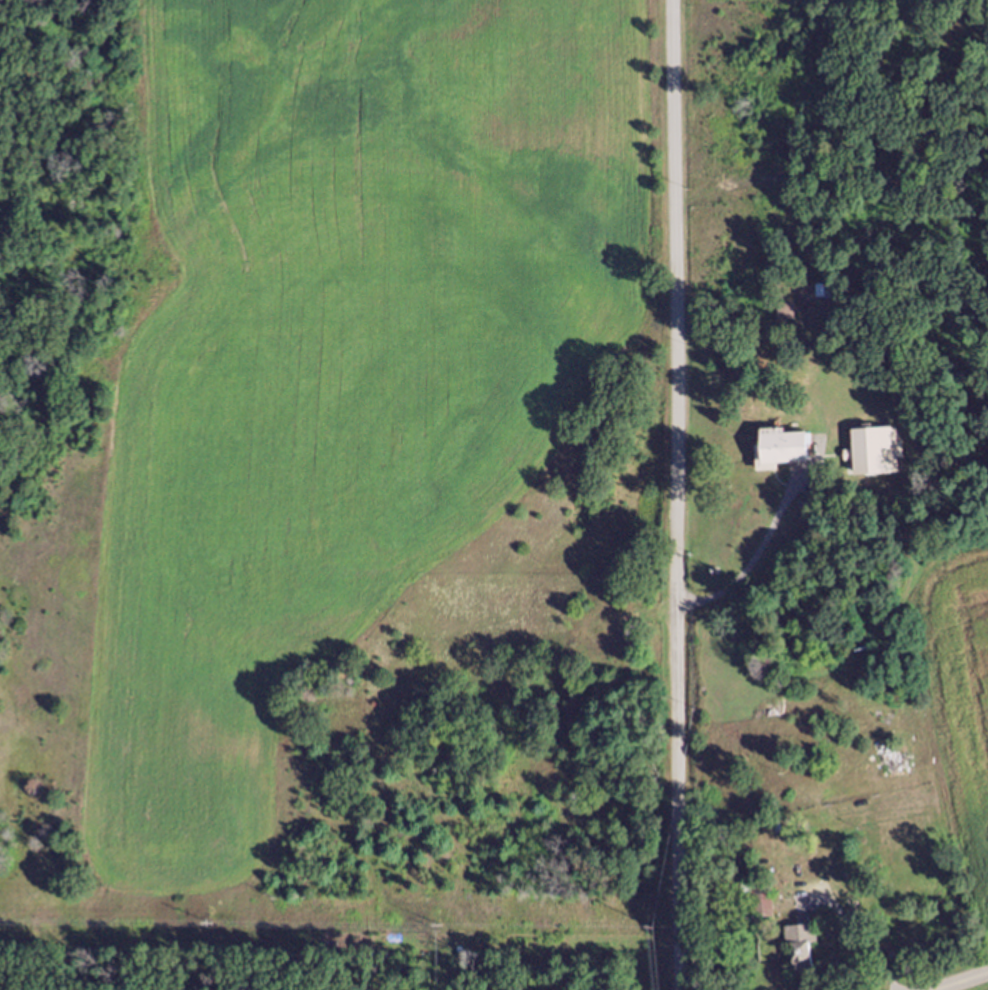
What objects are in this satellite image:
building: (827, 297)
building: (789, 316)
building: (794, 452)
building: (882, 457)
road: (678, 494)
road: (755, 552)
building: (808, 955)
road: (966, 983)

